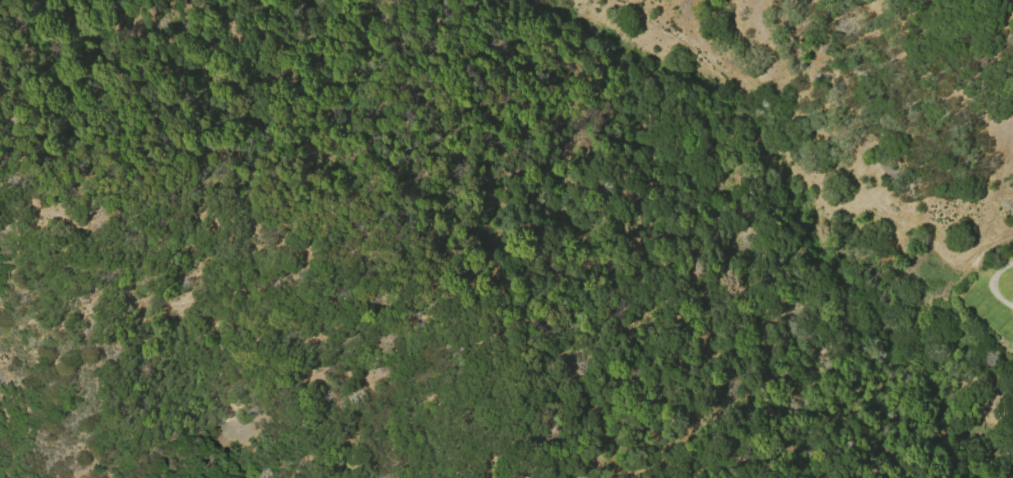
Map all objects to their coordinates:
road: (991, 285)

